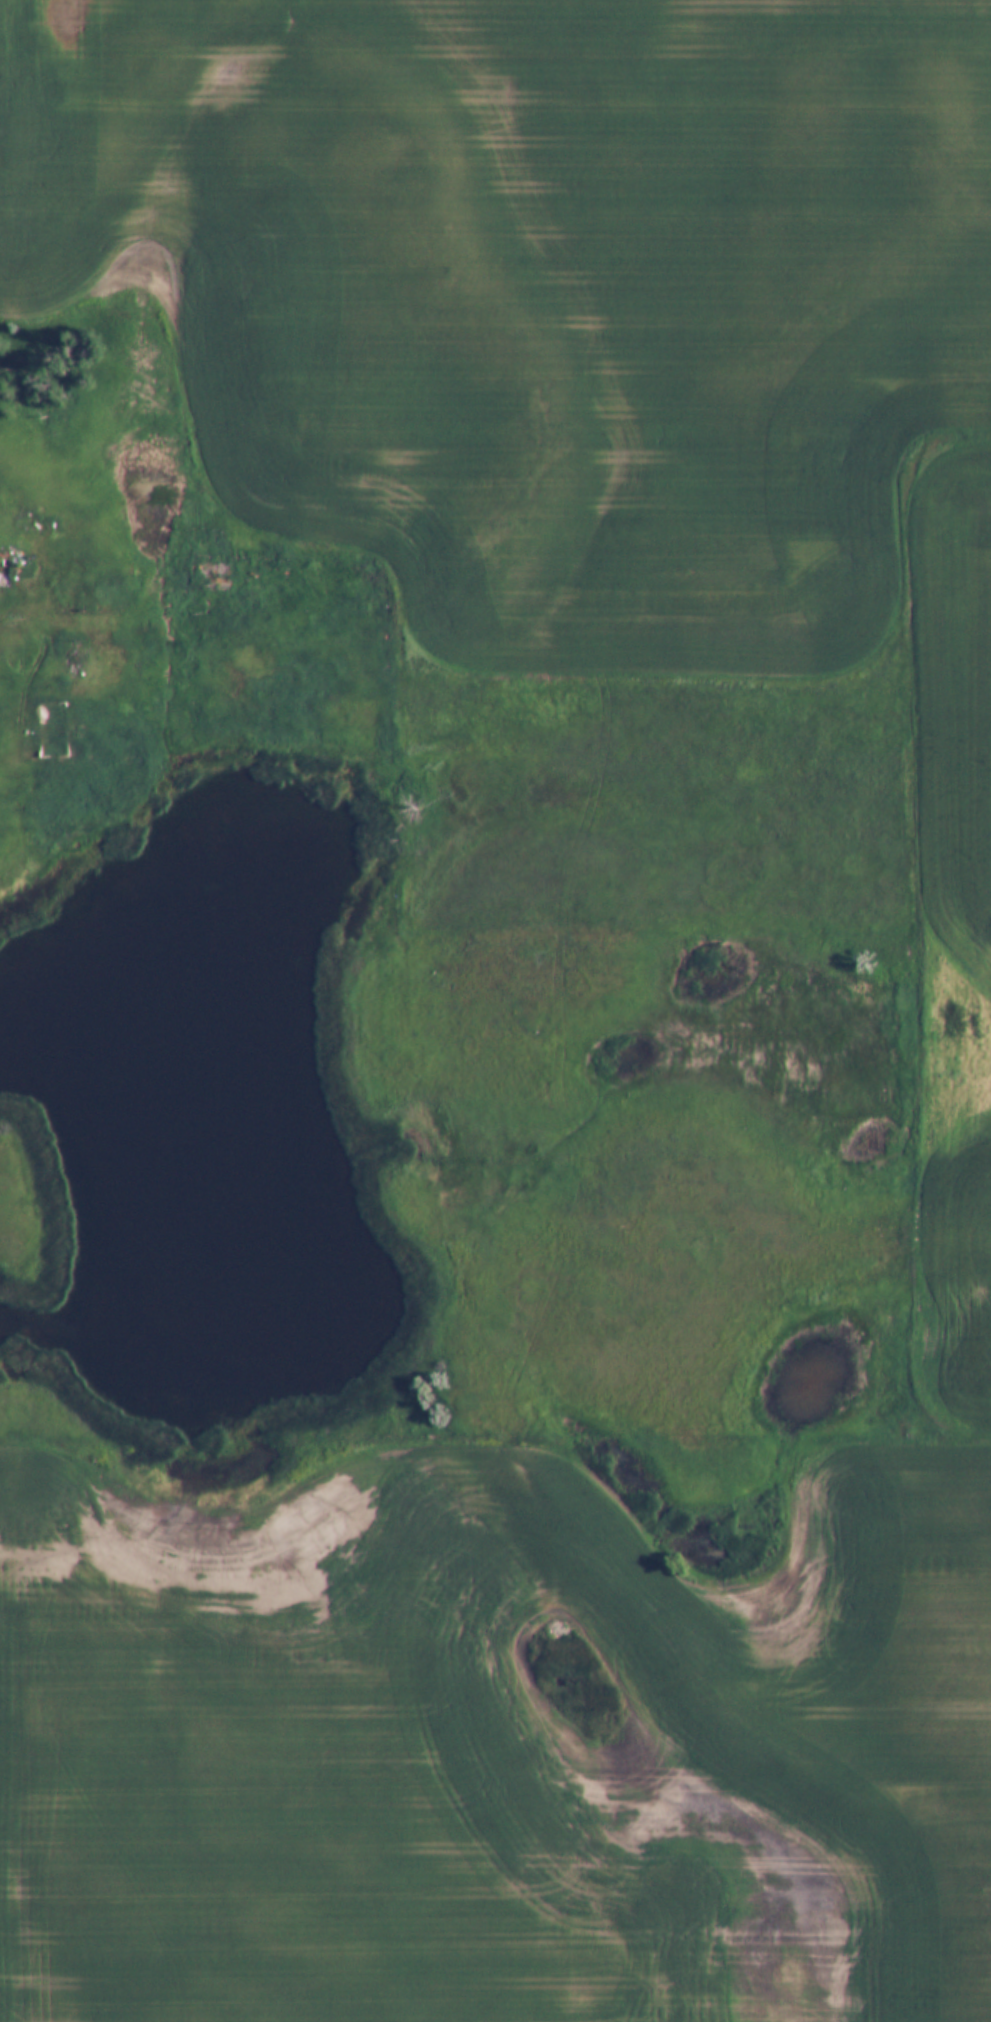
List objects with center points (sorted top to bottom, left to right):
road: (29, 616)

